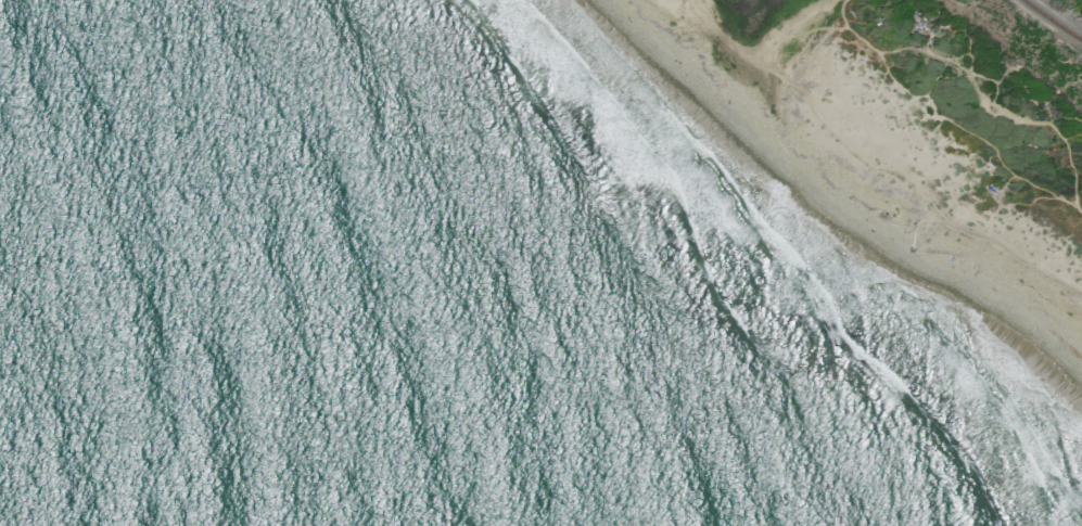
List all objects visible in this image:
railway: (1053, 20)
park: (924, 113)
road: (873, 167)

